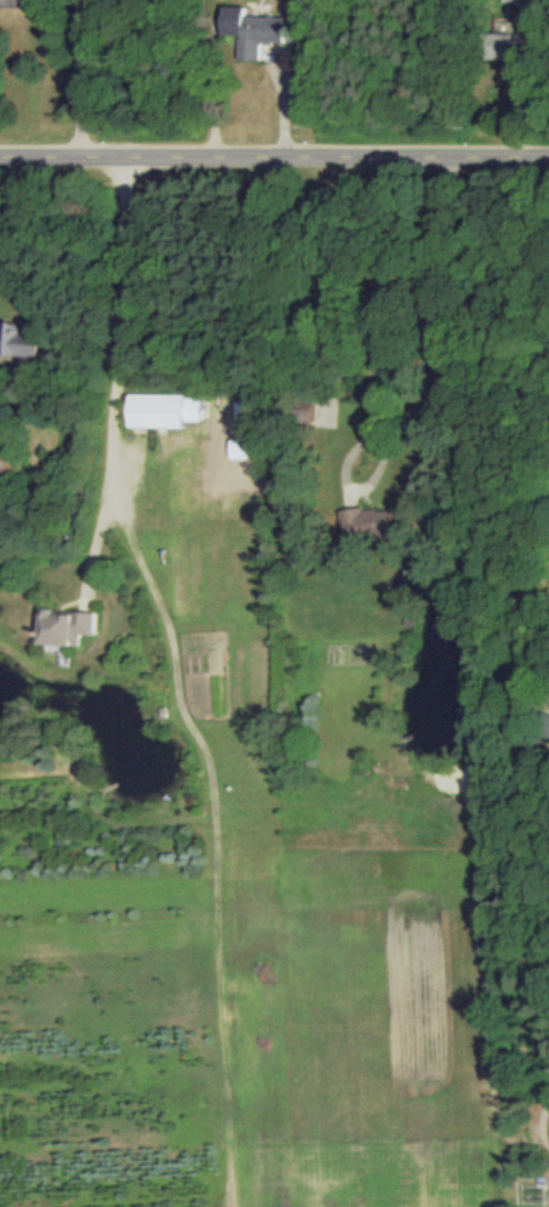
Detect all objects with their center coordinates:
building: (520, 0)
building: (13, 5)
road: (525, 29)
building: (252, 32)
building: (503, 47)
road: (69, 76)
road: (274, 155)
building: (17, 342)
road: (116, 362)
road: (438, 387)
building: (162, 412)
building: (370, 524)
road: (501, 531)
building: (65, 628)

